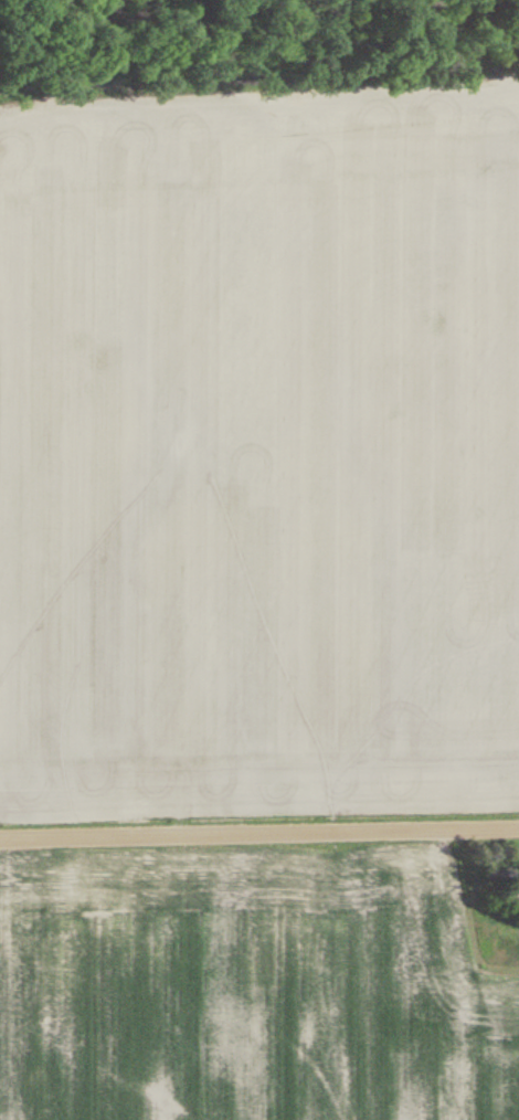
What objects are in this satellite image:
road: (259, 832)
building: (513, 884)

